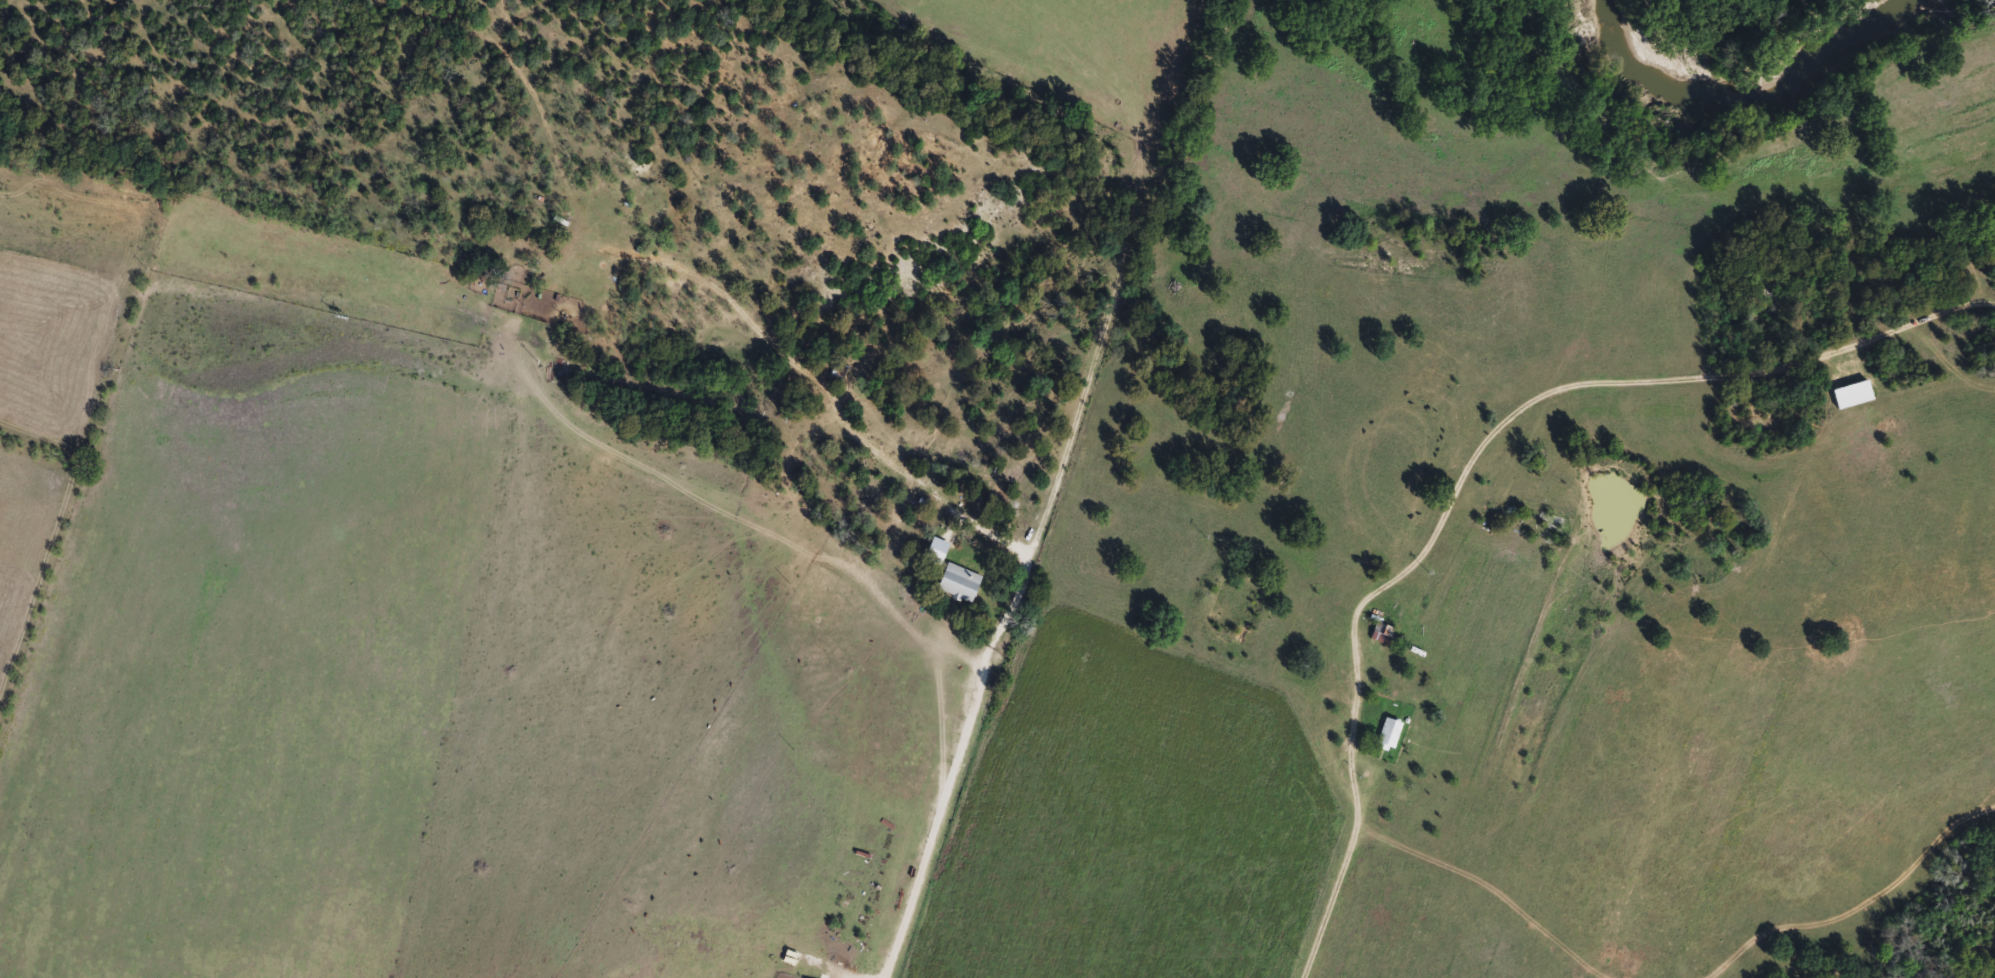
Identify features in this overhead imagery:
river: (1733, 89)
building: (841, 373)
building: (1855, 396)
building: (961, 584)
building: (1384, 636)
building: (1391, 737)

